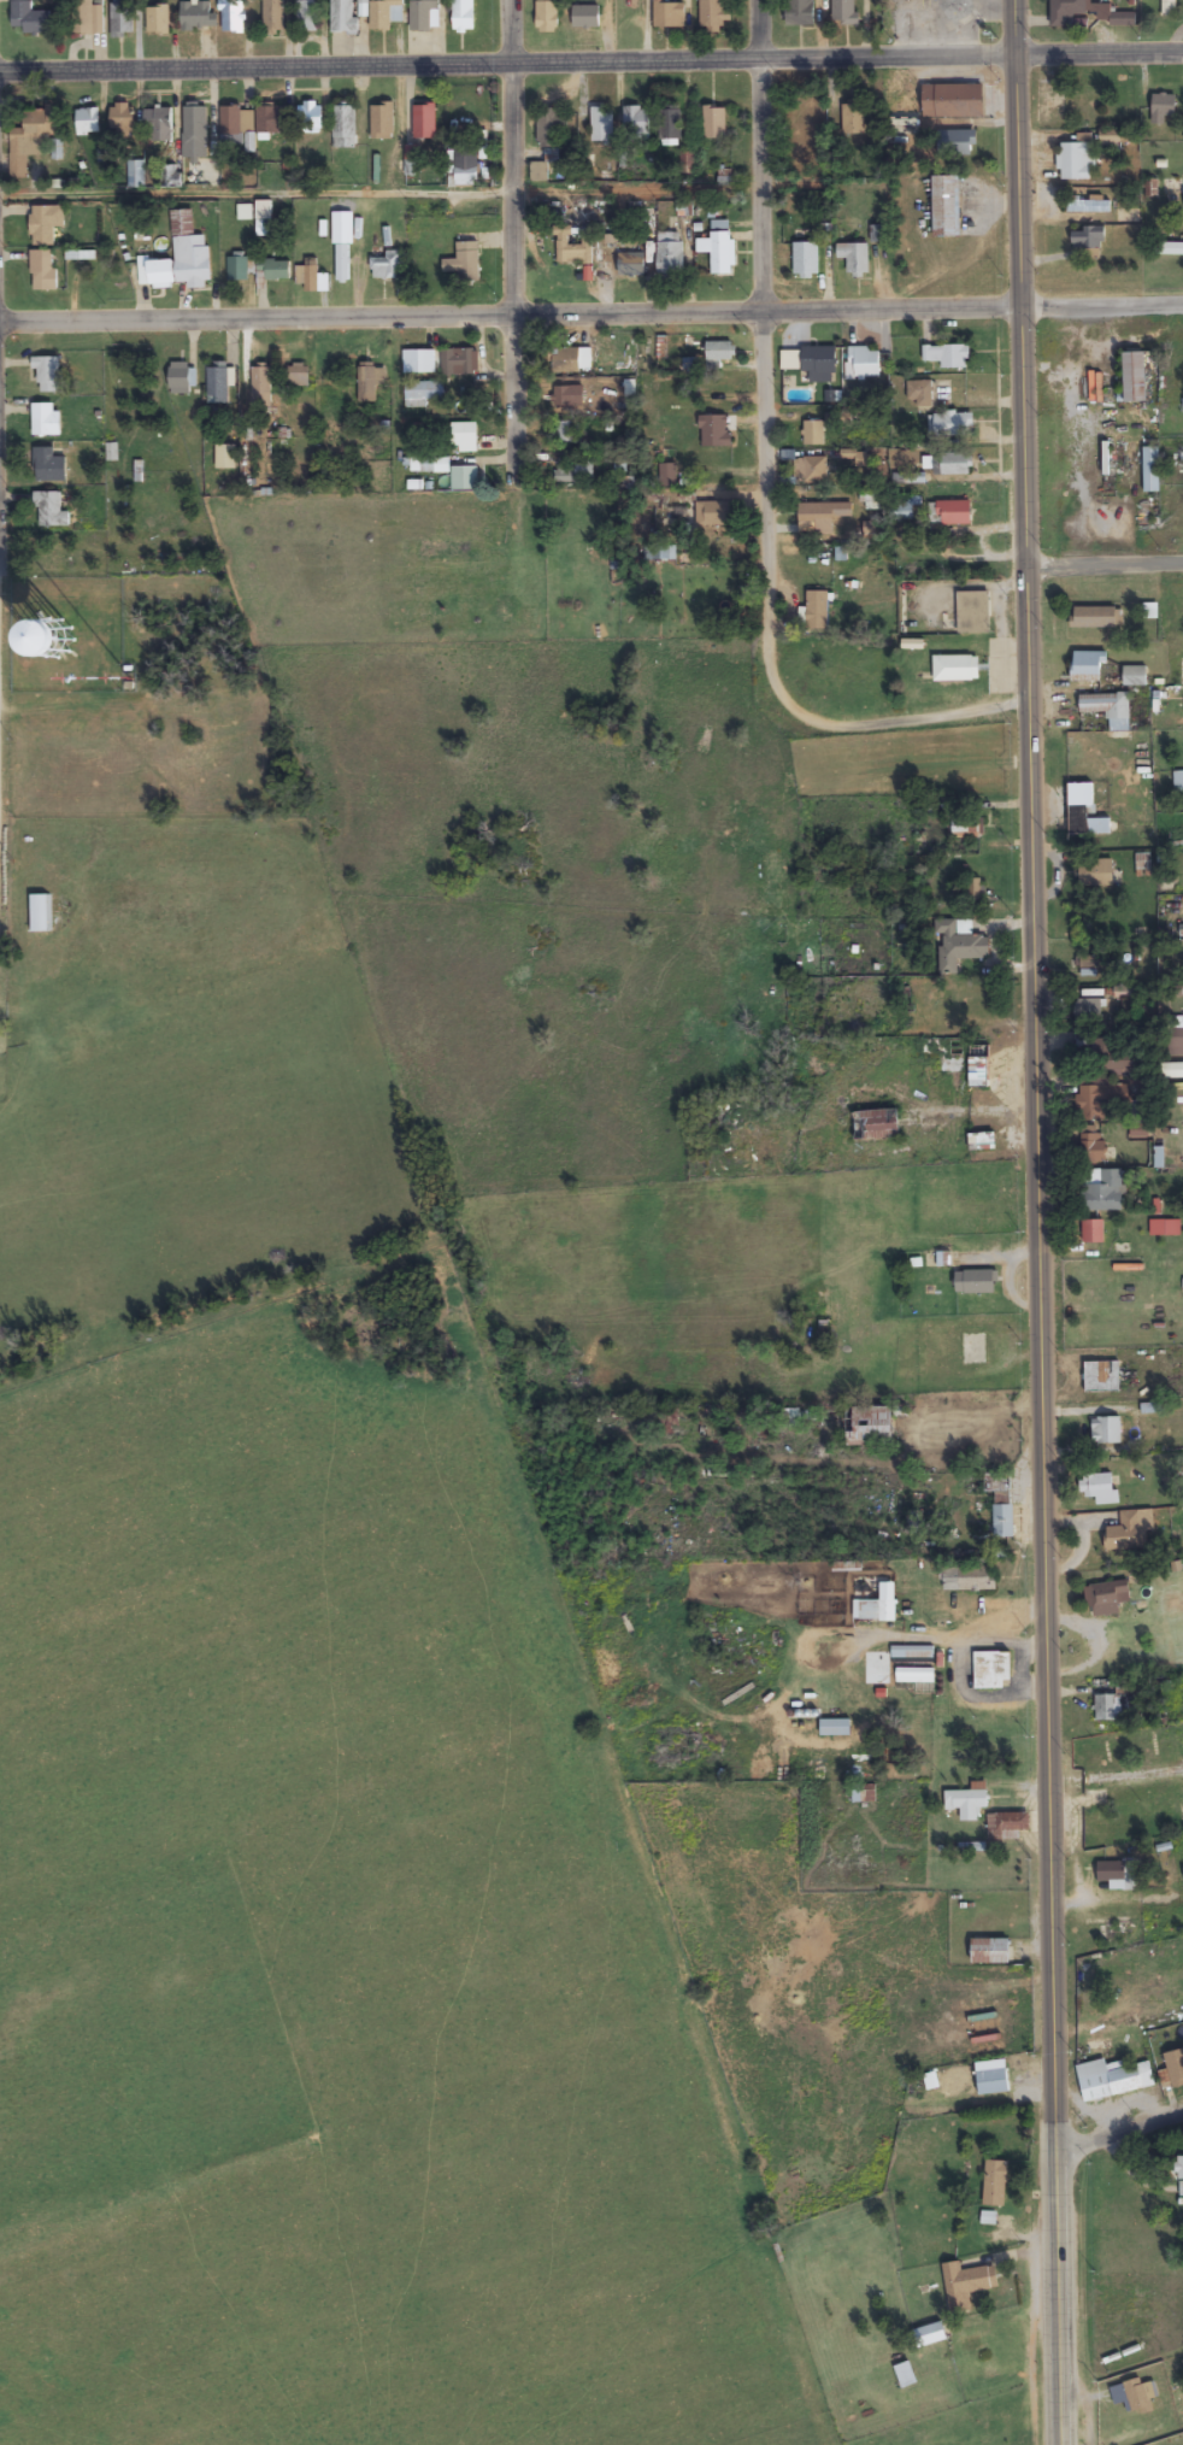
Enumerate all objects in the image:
building: (1167, 7)
building: (1066, 11)
building: (844, 12)
building: (385, 13)
building: (800, 13)
building: (424, 14)
building: (547, 14)
building: (669, 14)
building: (199, 16)
building: (307, 16)
building: (463, 16)
building: (712, 16)
building: (86, 17)
building: (343, 17)
building: (585, 17)
building: (1114, 17)
building: (29, 18)
building: (273, 18)
building: (122, 19)
building: (158, 19)
road: (1099, 52)
road: (507, 66)
building: (952, 101)
building: (1163, 107)
building: (122, 118)
building: (311, 118)
building: (853, 119)
building: (269, 121)
building: (87, 122)
building: (382, 122)
building: (424, 122)
building: (714, 122)
building: (671, 123)
building: (636, 124)
building: (159, 125)
building: (230, 125)
building: (602, 125)
building: (904, 125)
building: (345, 127)
building: (551, 127)
building: (28, 142)
building: (955, 142)
building: (195, 147)
building: (411, 154)
building: (1076, 159)
building: (466, 170)
building: (538, 172)
road: (264, 195)
road: (4, 196)
building: (1088, 206)
building: (946, 207)
building: (263, 219)
building: (45, 224)
road: (519, 229)
building: (1088, 239)
building: (342, 248)
building: (572, 248)
building: (1176, 249)
building: (189, 253)
building: (723, 254)
building: (670, 255)
building: (854, 258)
building: (805, 260)
building: (465, 263)
building: (631, 265)
building: (388, 266)
building: (237, 270)
building: (43, 271)
building: (273, 271)
building: (155, 275)
building: (311, 276)
road: (595, 305)
road: (8, 330)
road: (766, 337)
building: (718, 351)
building: (947, 355)
building: (570, 359)
building: (789, 359)
building: (413, 362)
building: (460, 362)
building: (819, 363)
building: (863, 363)
building: (47, 375)
building: (298, 376)
building: (1134, 377)
building: (181, 378)
building: (370, 382)
building: (260, 384)
building: (217, 386)
building: (422, 393)
building: (920, 393)
building: (567, 396)
building: (46, 419)
building: (953, 424)
building: (714, 430)
building: (564, 431)
building: (813, 433)
building: (464, 436)
building: (225, 457)
building: (853, 458)
building: (948, 464)
building: (440, 465)
building: (48, 466)
building: (1150, 469)
building: (812, 470)
building: (576, 471)
building: (464, 477)
building: (49, 510)
building: (901, 510)
building: (711, 512)
building: (955, 512)
building: (824, 515)
road: (6, 523)
building: (659, 552)
road: (1103, 563)
road: (6, 566)
building: (817, 610)
building: (972, 612)
building: (1096, 617)
building: (48, 634)
building: (1088, 666)
building: (955, 668)
building: (1134, 676)
building: (1108, 709)
road: (891, 717)
building: (1084, 811)
building: (965, 824)
building: (1143, 864)
building: (1095, 872)
building: (40, 913)
building: (1182, 929)
building: (959, 945)
building: (971, 993)
building: (1087, 1011)
building: (1175, 1042)
building: (1087, 1045)
building: (944, 1053)
building: (977, 1072)
building: (1099, 1098)
building: (876, 1124)
building: (982, 1141)
road: (1036, 1163)
building: (1097, 1177)
building: (1093, 1232)
building: (976, 1282)
building: (973, 1354)
building: (1101, 1377)
building: (870, 1426)
building: (1106, 1430)
building: (1099, 1488)
building: (1002, 1521)
building: (1128, 1533)
building: (969, 1580)
building: (1106, 1594)
building: (879, 1605)
building: (913, 1665)
building: (991, 1670)
building: (835, 1728)
building: (863, 1793)
building: (966, 1803)
building: (1008, 1826)
building: (1117, 1874)
building: (1116, 1934)
building: (990, 1951)
building: (1175, 2068)
building: (991, 2077)
building: (1113, 2079)
road: (1119, 2130)
building: (1179, 2173)
building: (995, 2185)
building: (966, 2285)
building: (929, 2335)
building: (905, 2375)
road: (1058, 2386)
building: (1138, 2397)

